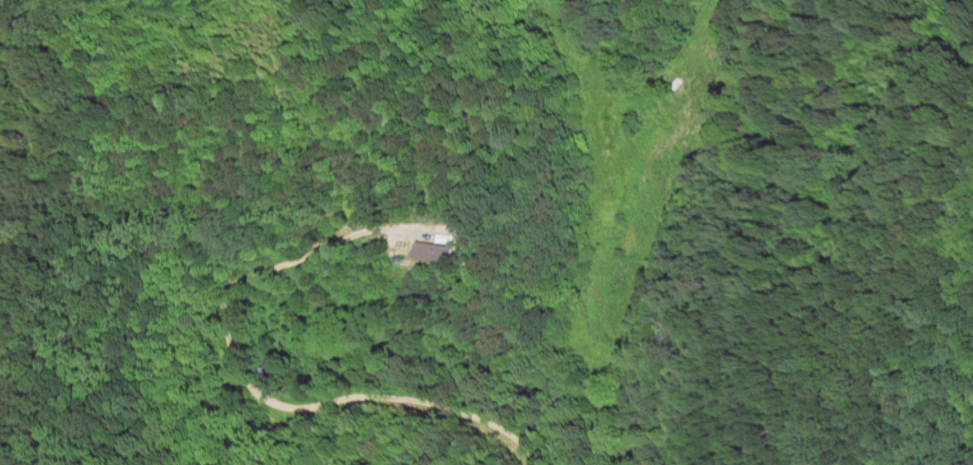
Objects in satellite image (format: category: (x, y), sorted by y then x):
building: (432, 236)
road: (243, 386)

